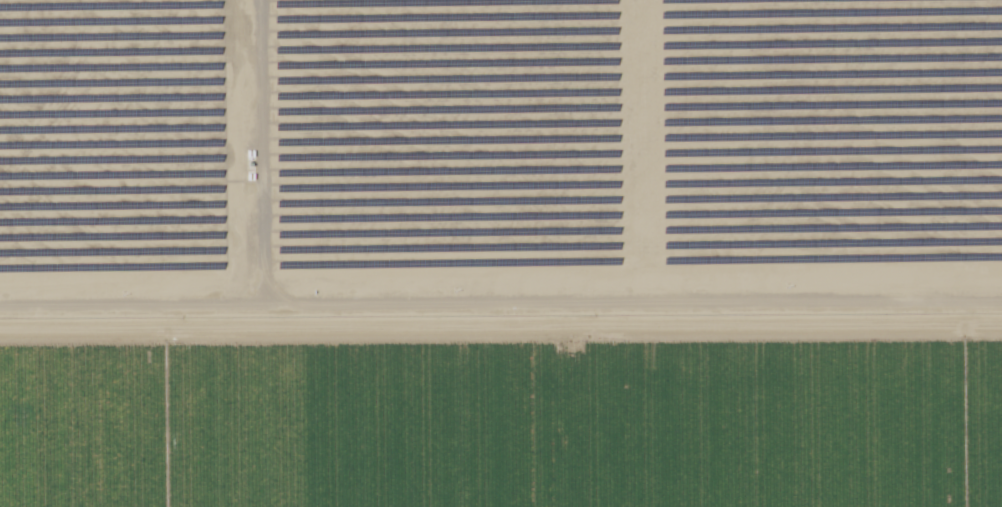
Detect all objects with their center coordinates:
solar farm: (499, 160)
crop: (508, 424)

